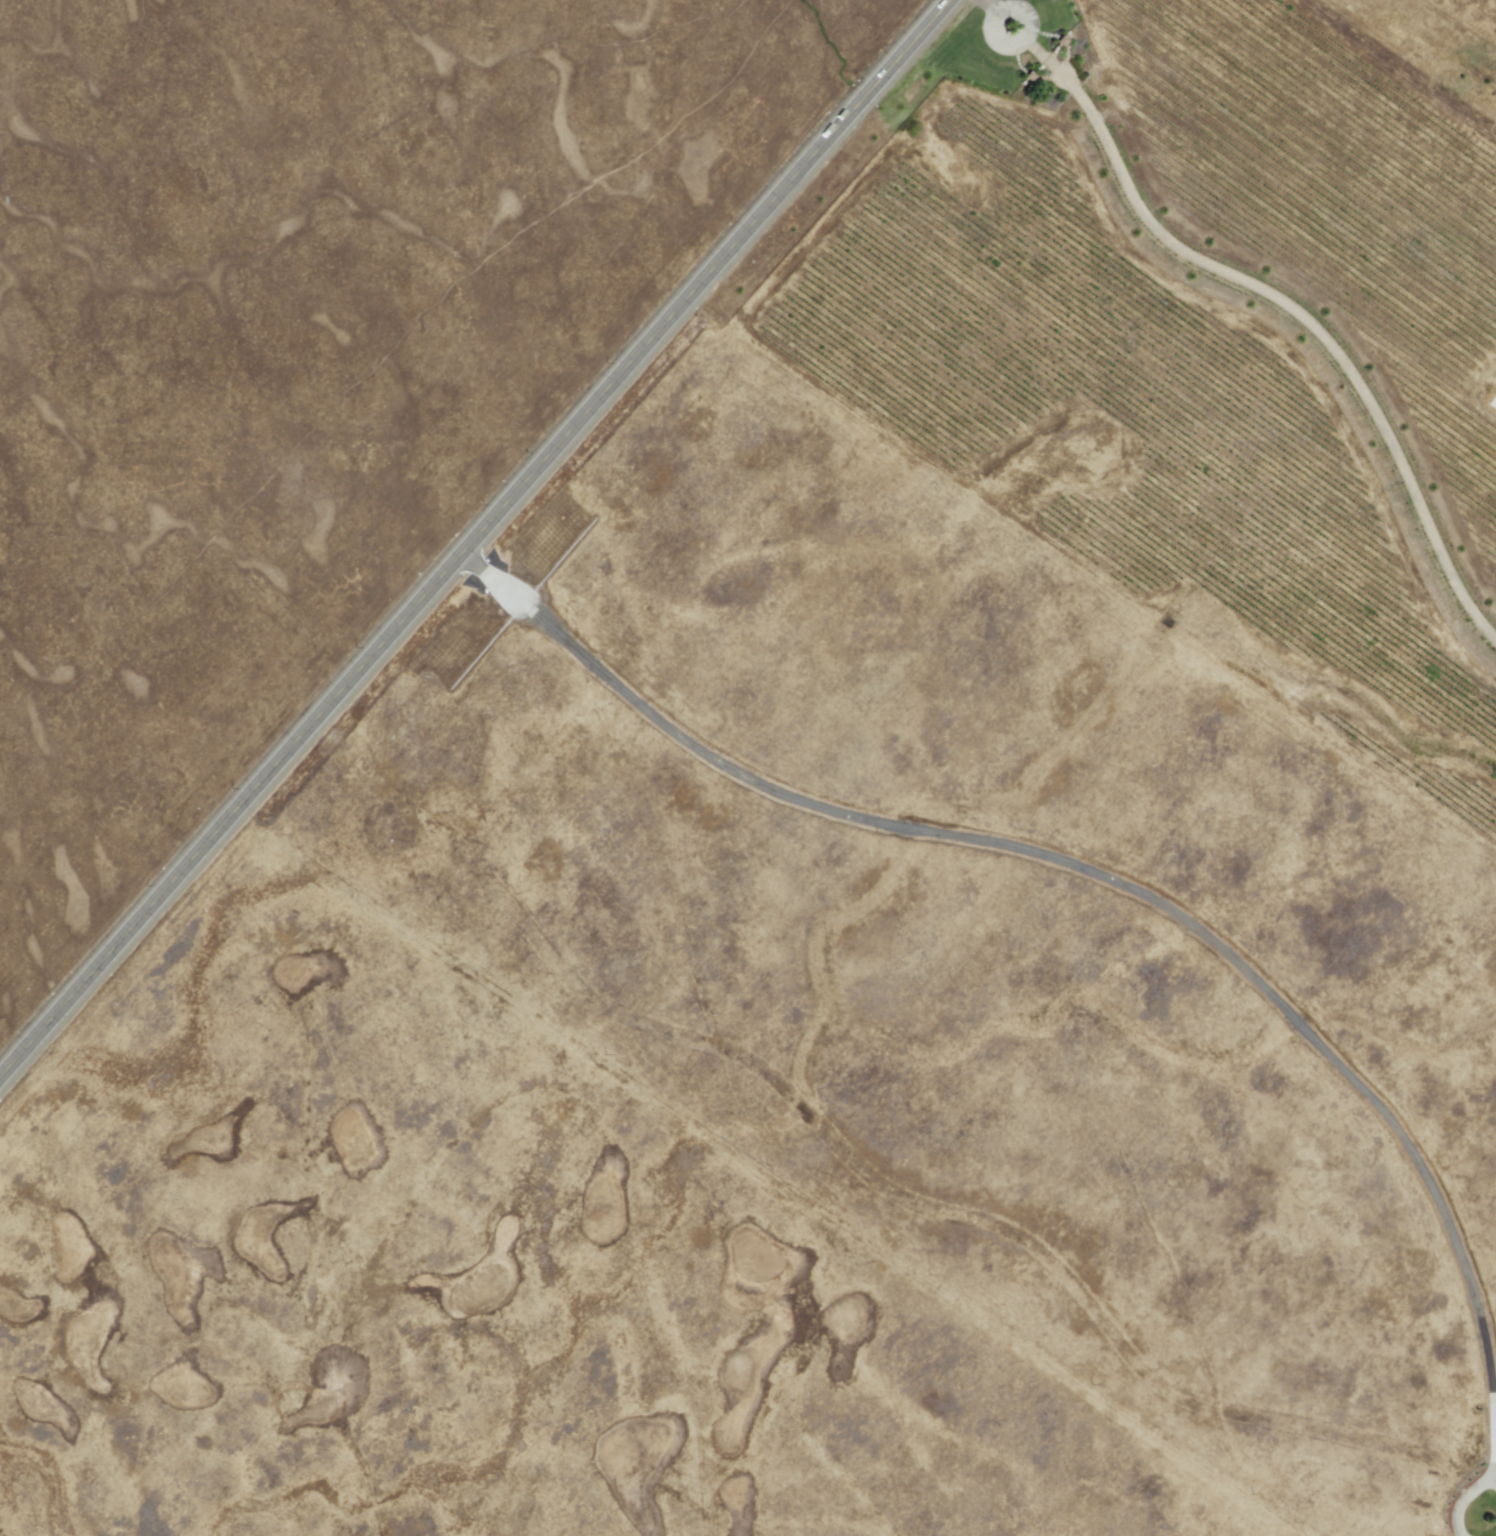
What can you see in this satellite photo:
road: (1269, 293)
road: (474, 539)
crop: (617, 874)
road: (1106, 878)
road: (1492, 1470)
road: (1493, 1483)
road: (1460, 1502)

